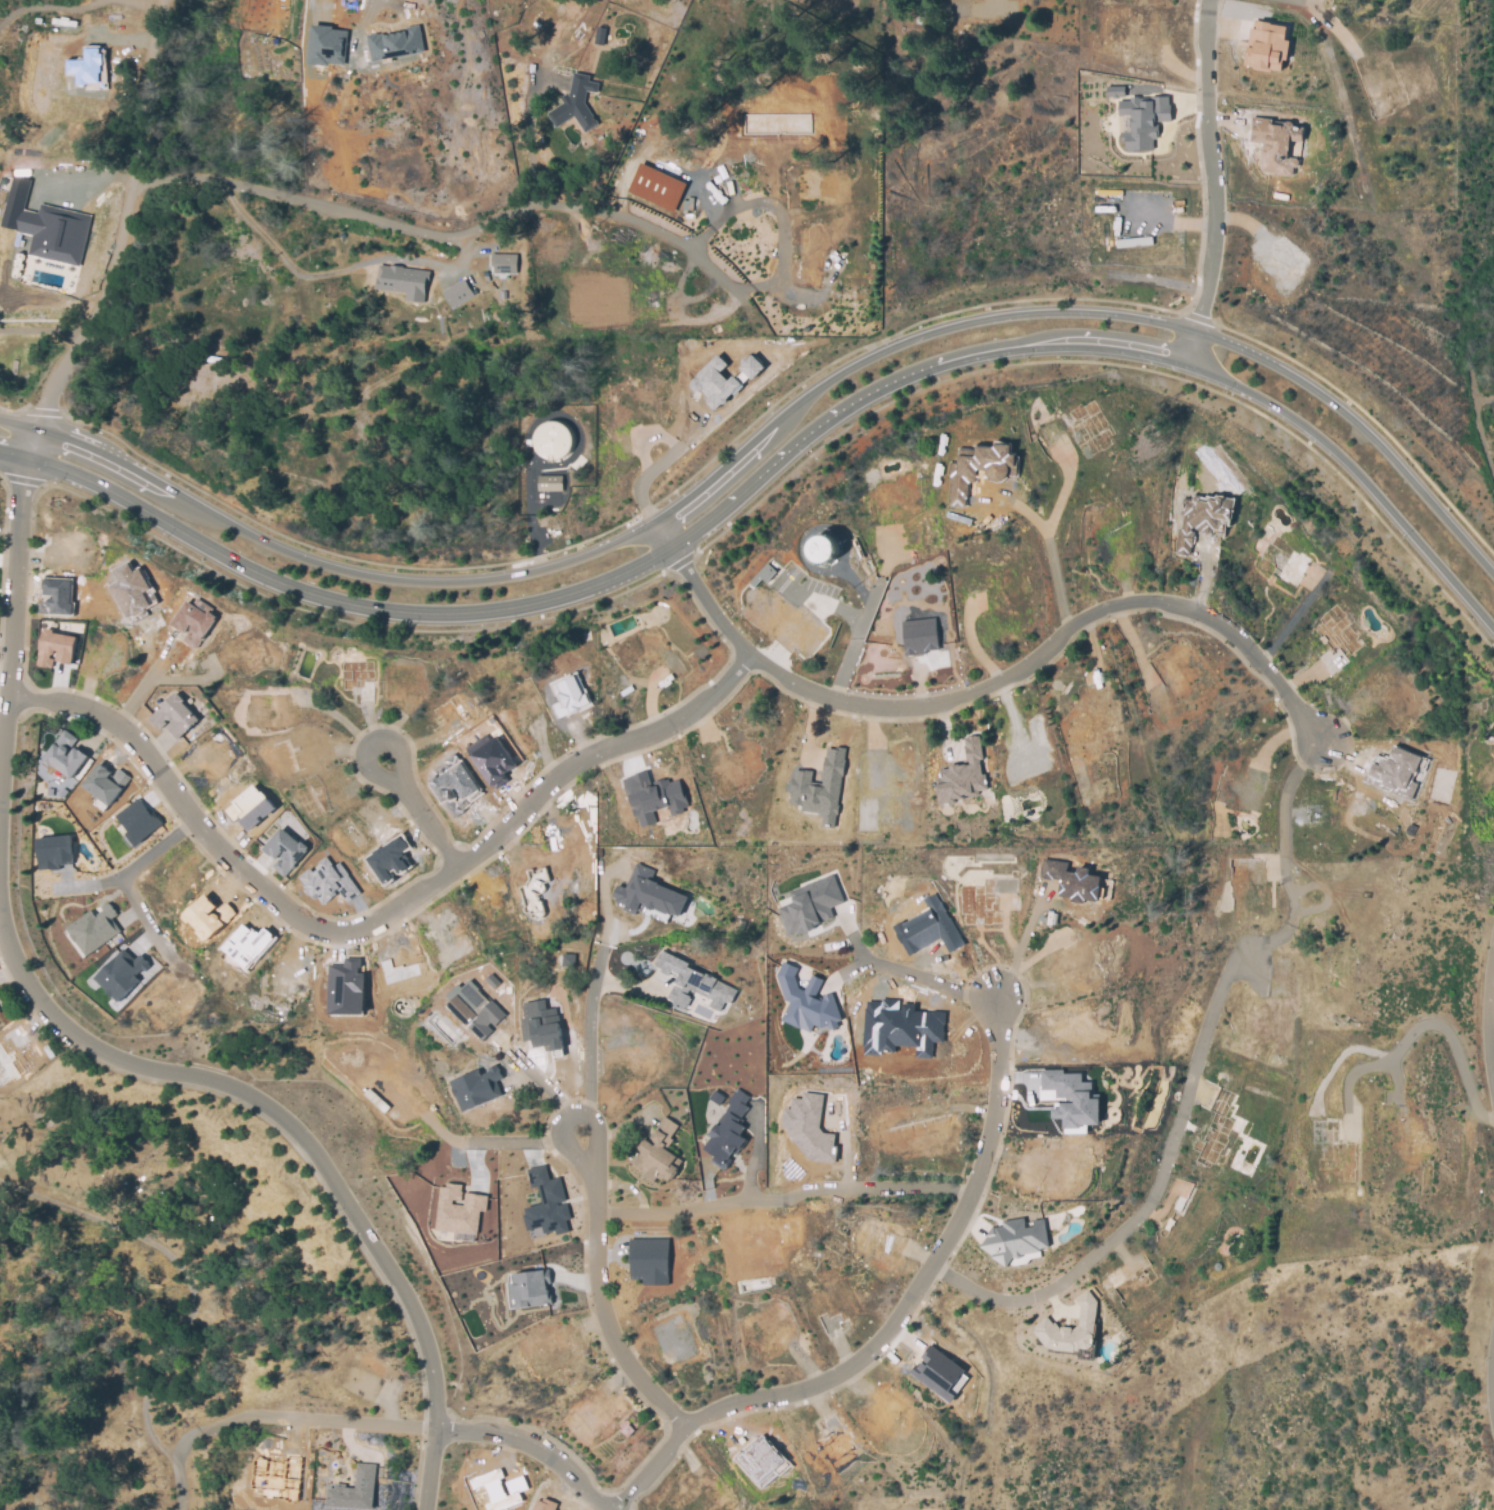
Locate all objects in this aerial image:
road: (1303, 0)
road: (140, 3)
road: (926, 7)
road: (363, 15)
building: (600, 36)
building: (327, 45)
building: (392, 46)
building: (1265, 46)
building: (87, 69)
building: (1114, 91)
building: (573, 106)
building: (1143, 120)
road: (528, 142)
building: (1275, 144)
road: (1211, 184)
building: (654, 190)
road: (98, 222)
building: (45, 226)
road: (417, 229)
building: (1133, 241)
building: (501, 264)
road: (336, 271)
building: (405, 280)
building: (457, 292)
building: (501, 294)
road: (1089, 312)
road: (42, 330)
road: (1105, 349)
building: (751, 364)
building: (714, 381)
road: (57, 383)
road: (763, 413)
road: (20, 422)
building: (552, 439)
road: (689, 440)
road: (14, 454)
building: (578, 464)
building: (976, 468)
road: (781, 483)
building: (550, 484)
road: (1056, 499)
road: (531, 503)
building: (1207, 509)
road: (1035, 520)
building: (822, 549)
road: (337, 573)
building: (762, 573)
road: (1057, 578)
building: (132, 595)
building: (54, 596)
road: (340, 605)
road: (1294, 618)
building: (193, 622)
building: (918, 638)
road: (849, 642)
building: (55, 647)
road: (987, 686)
road: (139, 694)
building: (568, 694)
building: (172, 716)
building: (64, 754)
building: (497, 760)
building: (1393, 773)
building: (961, 776)
building: (103, 786)
building: (820, 787)
building: (456, 788)
building: (653, 797)
road: (412, 805)
building: (248, 807)
building: (138, 820)
building: (53, 851)
building: (293, 853)
building: (391, 858)
road: (129, 872)
building: (1072, 879)
building: (328, 881)
building: (533, 892)
building: (648, 892)
building: (811, 904)
building: (208, 917)
road: (377, 926)
building: (93, 927)
road: (147, 928)
building: (927, 928)
building: (246, 944)
road: (1018, 951)
building: (567, 960)
building: (396, 971)
building: (120, 973)
road: (917, 975)
building: (489, 981)
building: (692, 982)
building: (347, 988)
building: (806, 1001)
building: (473, 1008)
road: (1493, 1012)
building: (540, 1025)
building: (900, 1025)
road: (1426, 1027)
road: (589, 1037)
road: (1190, 1072)
road: (543, 1084)
building: (481, 1087)
building: (1080, 1105)
building: (813, 1127)
building: (727, 1131)
road: (500, 1144)
road: (307, 1148)
building: (659, 1154)
road: (471, 1158)
building: (544, 1203)
road: (783, 1205)
building: (458, 1209)
building: (1013, 1245)
building: (647, 1260)
building: (532, 1288)
road: (596, 1295)
road: (893, 1322)
building: (1068, 1335)
building: (934, 1377)
road: (268, 1416)
building: (627, 1429)
road: (529, 1444)
building: (758, 1463)
building: (500, 1489)
building: (356, 1490)
building: (544, 1505)

